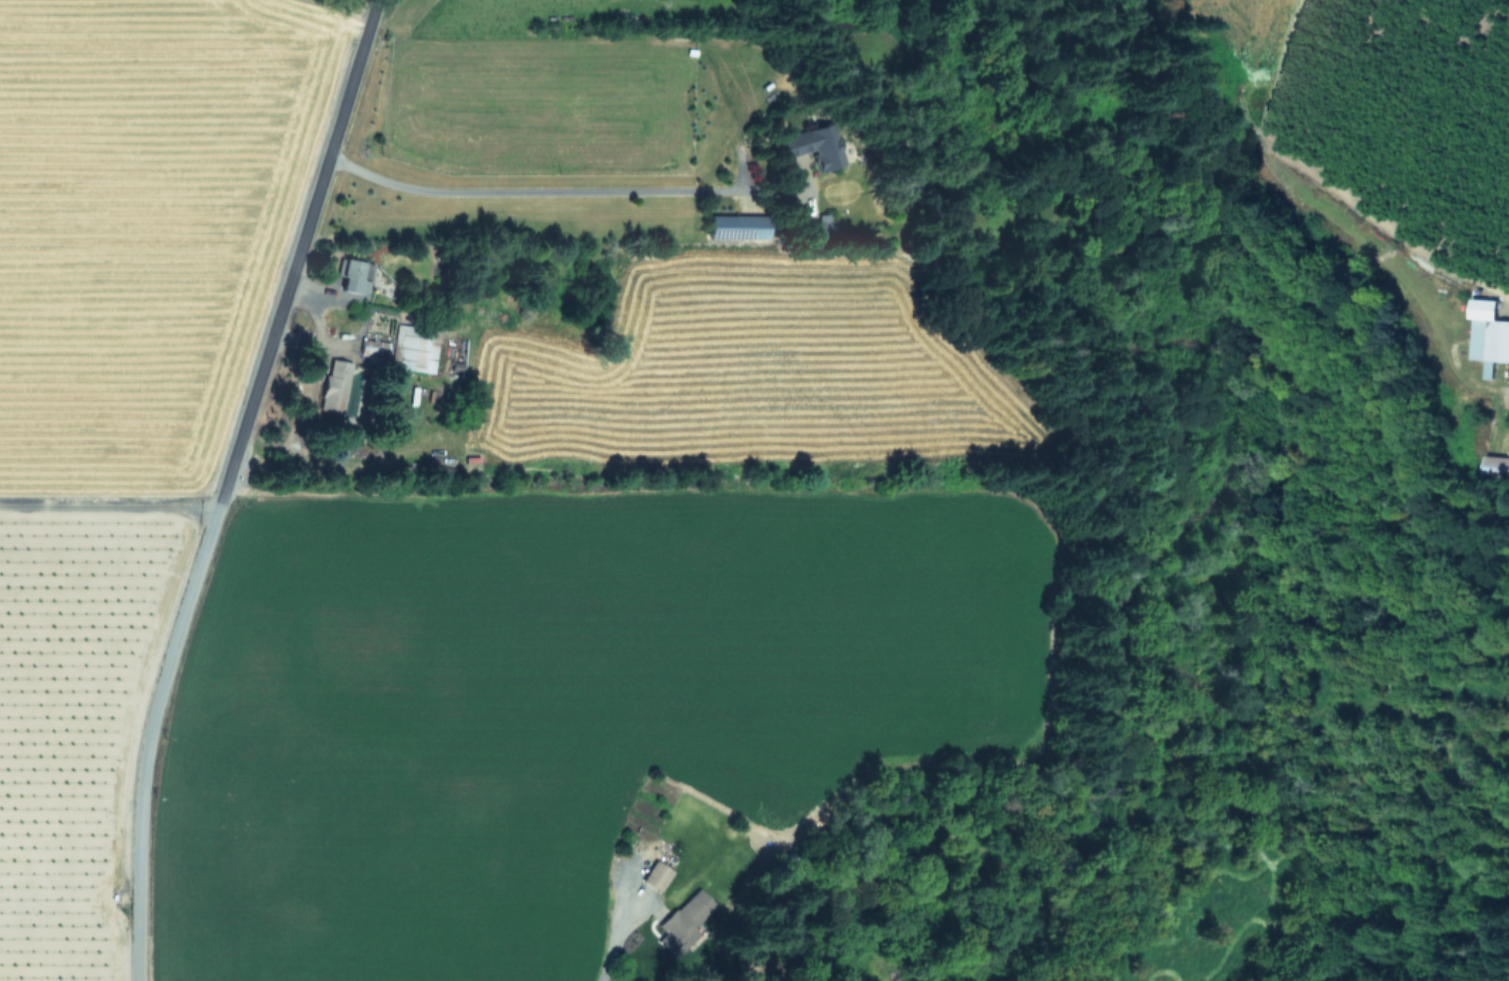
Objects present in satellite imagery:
building: (812, 145)
road: (523, 191)
building: (737, 225)
building: (354, 274)
building: (1488, 334)
building: (405, 347)
building: (334, 384)
building: (1497, 466)
river: (1214, 470)
road: (223, 485)
road: (108, 509)
crop: (502, 534)
building: (657, 875)
building: (684, 921)
road: (615, 929)

